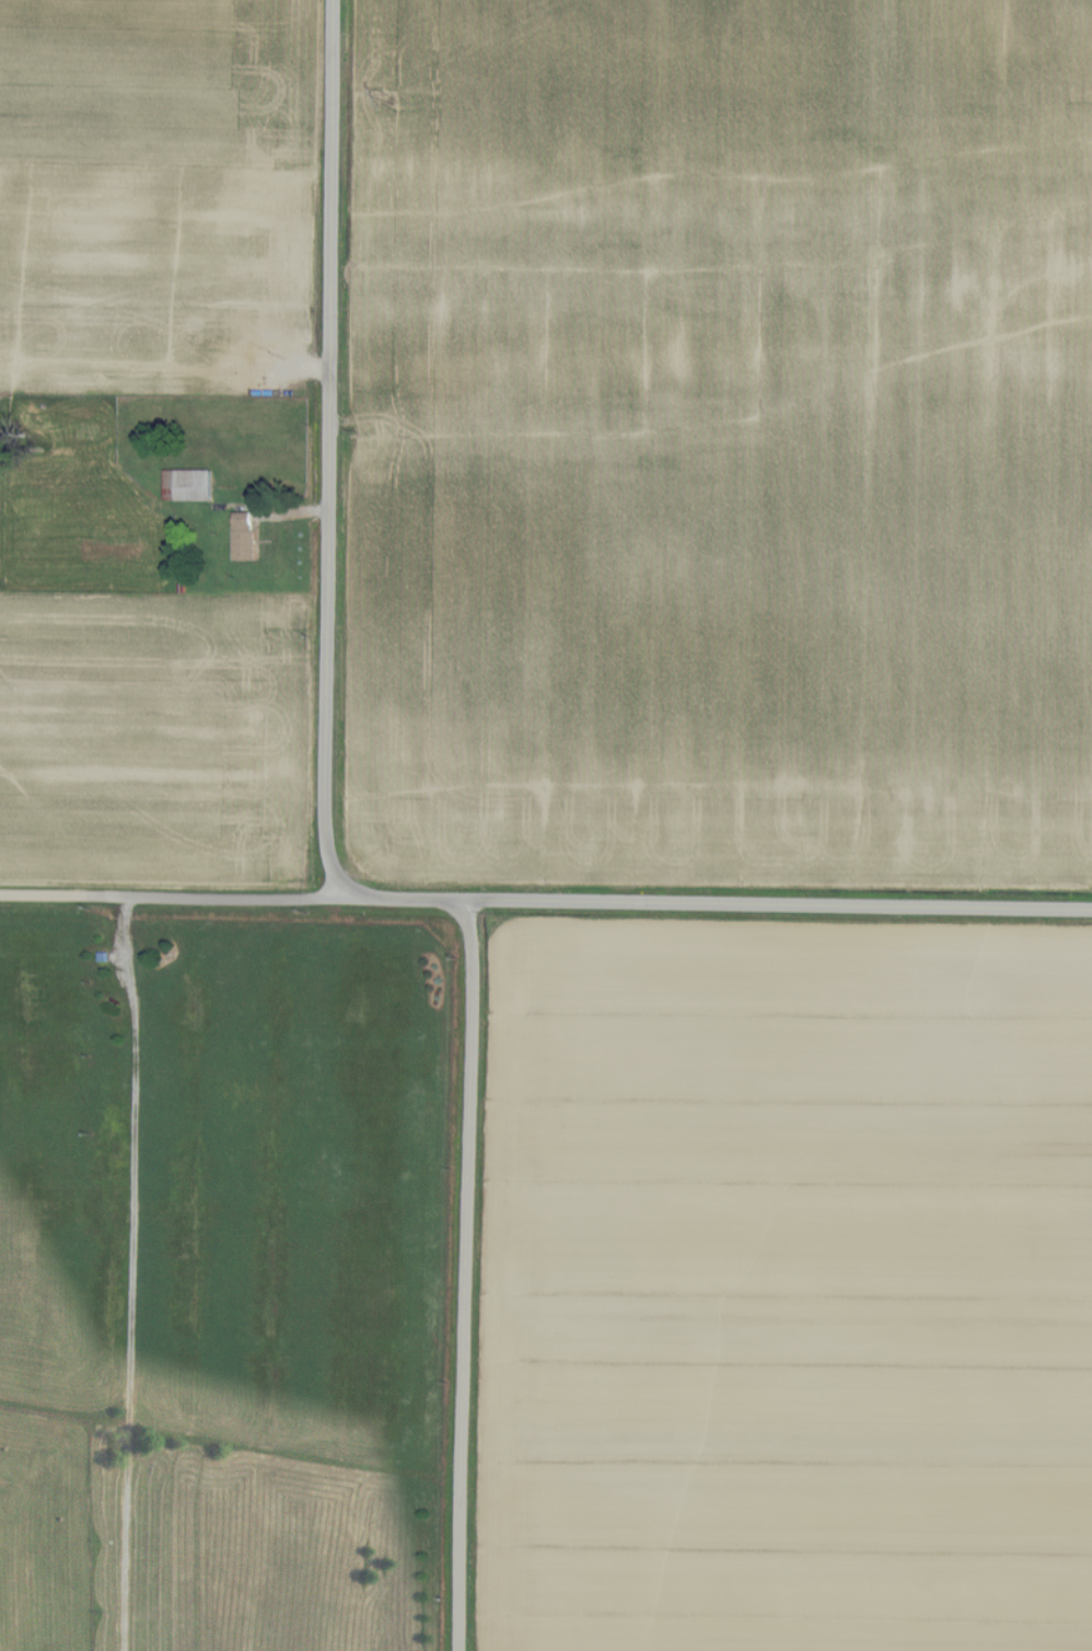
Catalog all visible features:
road: (330, 451)
building: (189, 485)
building: (244, 535)
road: (237, 899)
road: (783, 902)
road: (127, 1273)
road: (469, 1275)

